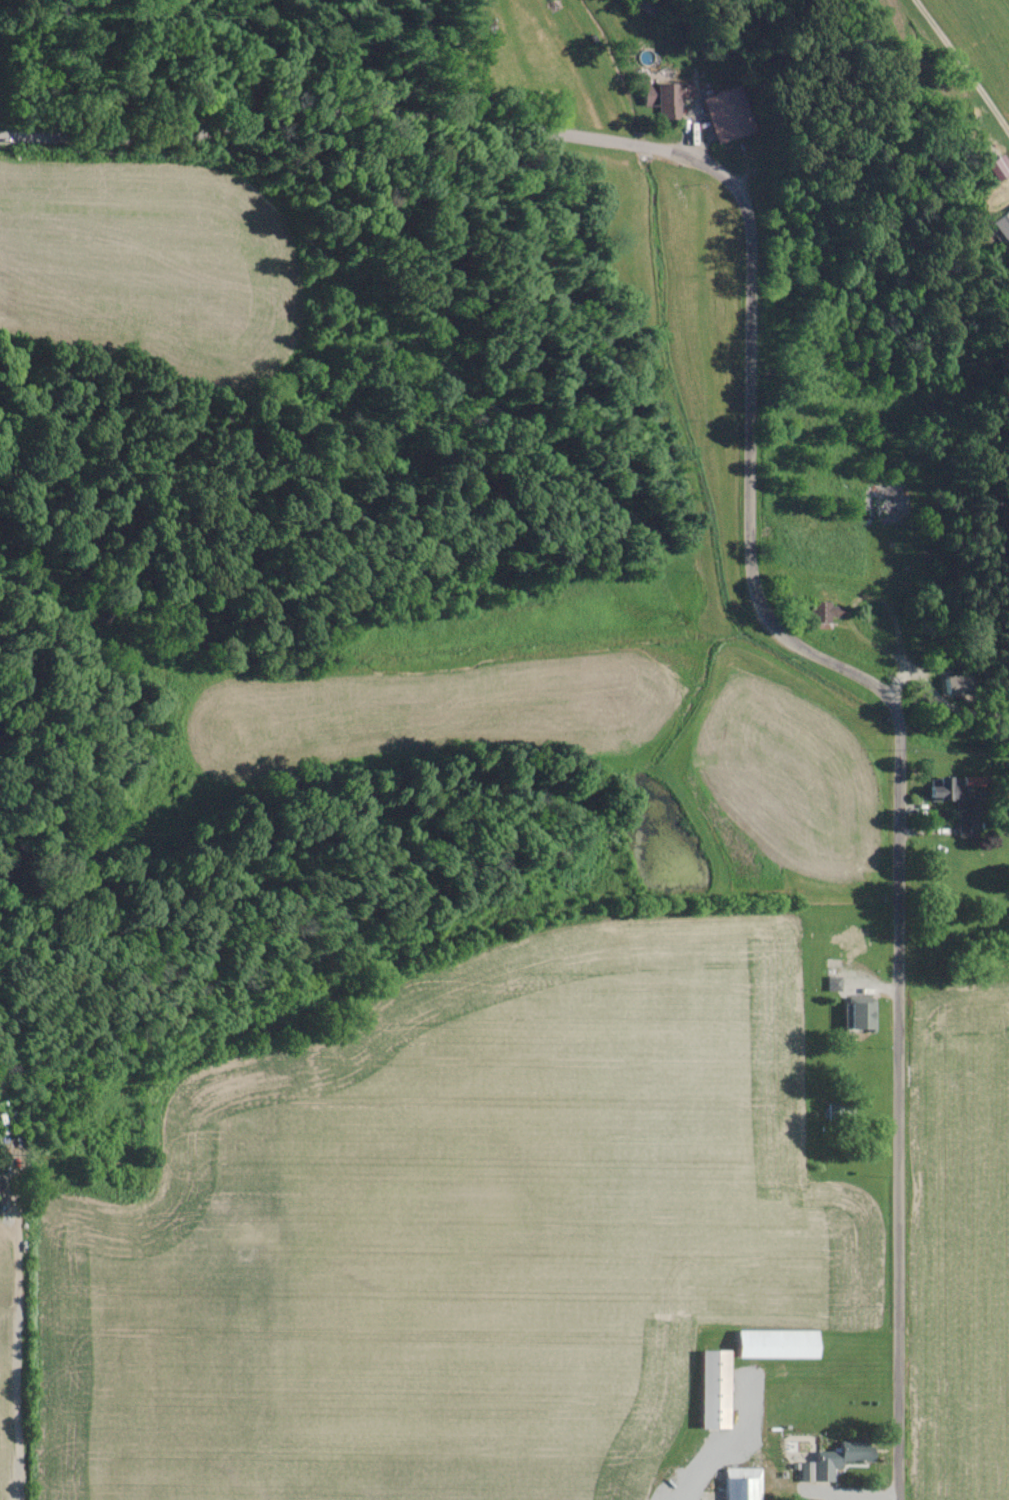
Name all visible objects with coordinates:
road: (958, 71)
building: (667, 97)
building: (725, 113)
building: (999, 167)
building: (1003, 224)
building: (891, 504)
road: (743, 505)
building: (825, 611)
building: (953, 684)
road: (932, 689)
building: (946, 787)
building: (965, 816)
road: (874, 983)
building: (859, 1012)
road: (18, 1341)
building: (778, 1343)
building: (715, 1388)
road: (750, 1456)
building: (833, 1460)
building: (743, 1483)

